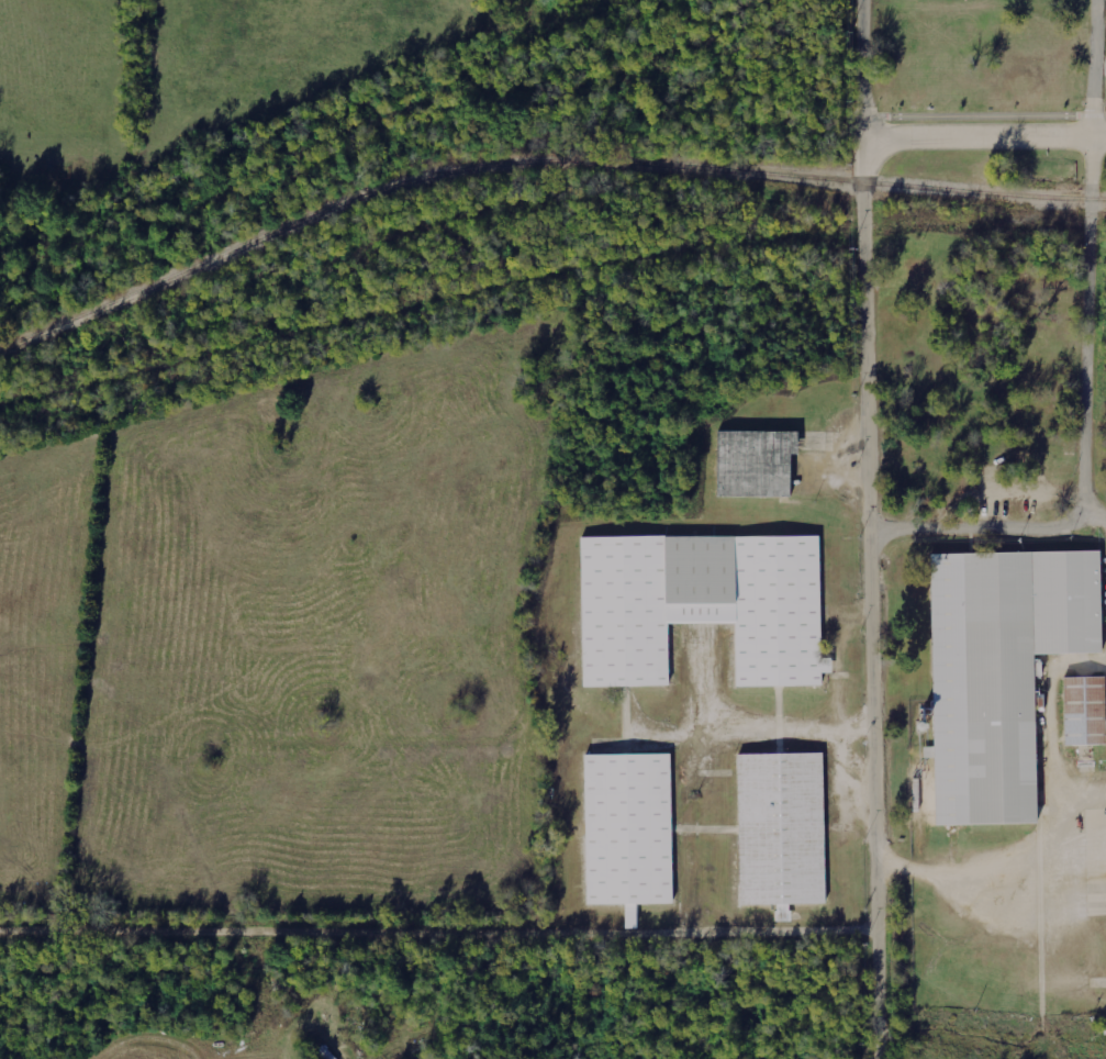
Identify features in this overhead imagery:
road: (985, 115)
road: (985, 136)
railway: (536, 160)
railway: (976, 219)
railway: (1103, 222)
building: (1105, 243)
road: (1088, 252)
railway: (420, 304)
building: (755, 462)
road: (867, 528)
road: (982, 531)
building: (701, 605)
building: (999, 671)
building: (1083, 711)
building: (627, 831)
building: (780, 831)

